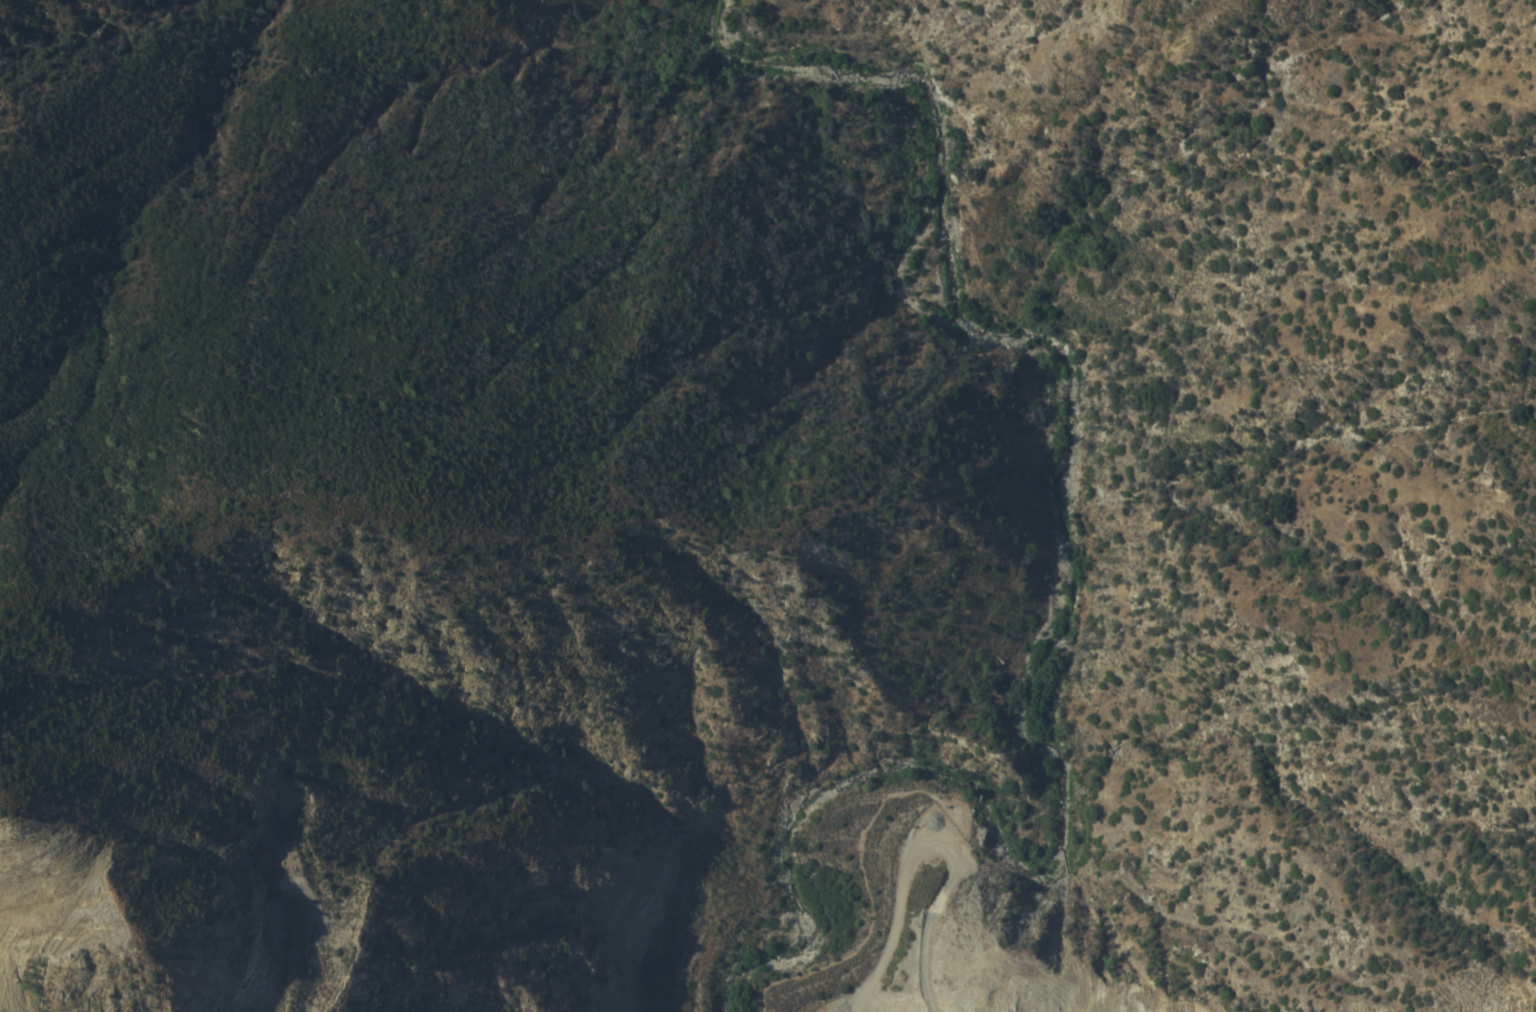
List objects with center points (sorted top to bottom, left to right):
road: (908, 795)
quarry: (766, 892)

